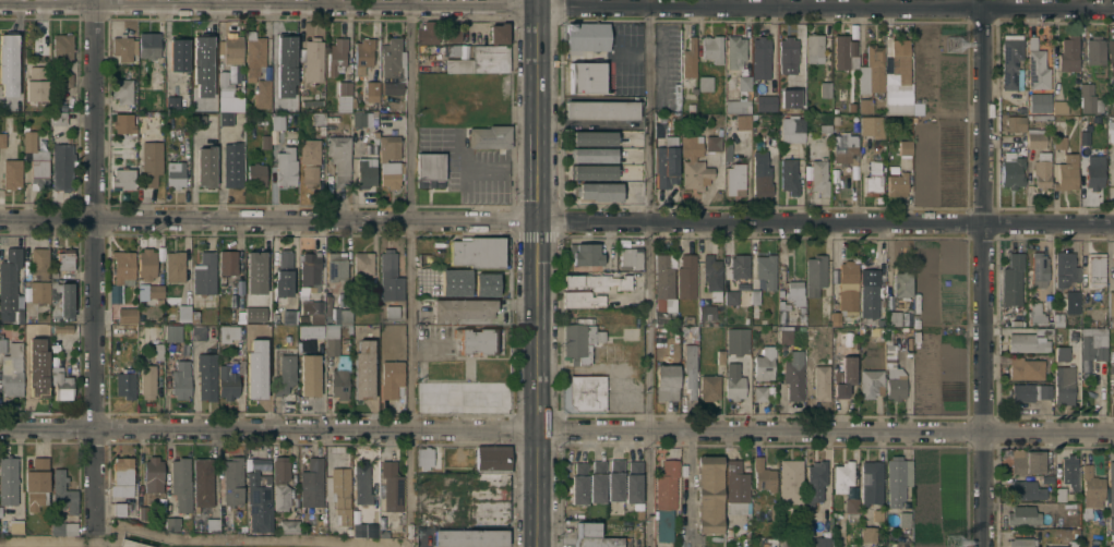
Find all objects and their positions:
road: (556, 5)
building: (428, 33)
building: (498, 33)
building: (451, 35)
building: (586, 35)
building: (148, 44)
building: (62, 47)
building: (123, 47)
building: (230, 47)
building: (8, 48)
building: (712, 48)
building: (814, 48)
building: (734, 50)
building: (843, 50)
building: (1094, 50)
building: (286, 51)
building: (453, 51)
building: (1068, 52)
building: (204, 53)
building: (178, 54)
building: (363, 54)
building: (336, 56)
building: (253, 57)
building: (760, 57)
building: (690, 58)
building: (1111, 58)
building: (313, 59)
building: (481, 59)
building: (788, 59)
building: (1011, 62)
building: (392, 64)
building: (1037, 66)
building: (872, 70)
building: (587, 71)
building: (156, 74)
building: (15, 80)
building: (65, 80)
building: (899, 80)
building: (224, 83)
building: (279, 83)
building: (705, 83)
building: (744, 83)
building: (36, 84)
building: (587, 86)
building: (209, 87)
building: (345, 87)
building: (122, 89)
building: (825, 89)
building: (371, 90)
building: (262, 93)
building: (676, 96)
building: (1089, 98)
building: (280, 99)
building: (788, 99)
building: (354, 101)
building: (766, 102)
building: (1039, 102)
building: (171, 104)
building: (193, 104)
building: (311, 104)
building: (738, 106)
building: (852, 106)
building: (865, 106)
building: (1059, 107)
building: (601, 109)
building: (917, 110)
building: (316, 118)
building: (362, 118)
building: (1041, 118)
building: (58, 119)
building: (225, 120)
building: (277, 121)
building: (742, 121)
building: (837, 121)
building: (199, 122)
building: (123, 123)
building: (854, 123)
building: (1015, 123)
building: (872, 126)
building: (825, 127)
building: (793, 129)
building: (1110, 131)
building: (657, 133)
building: (375, 134)
building: (490, 136)
building: (1035, 137)
building: (1085, 137)
building: (591, 138)
building: (2, 139)
building: (265, 141)
building: (712, 142)
building: (1059, 142)
building: (130, 146)
building: (905, 147)
building: (845, 149)
building: (592, 156)
building: (727, 156)
building: (339, 158)
building: (36, 160)
building: (309, 160)
building: (151, 161)
building: (391, 161)
building: (667, 162)
building: (694, 162)
building: (231, 165)
building: (62, 166)
building: (286, 166)
building: (205, 167)
building: (430, 169)
building: (1011, 170)
building: (1041, 170)
building: (367, 171)
building: (592, 172)
building: (12, 173)
building: (176, 173)
building: (762, 173)
building: (1066, 173)
building: (255, 174)
building: (790, 177)
building: (818, 177)
building: (1093, 177)
building: (122, 179)
building: (734, 179)
building: (872, 179)
building: (897, 184)
building: (598, 193)
road: (556, 222)
building: (477, 252)
building: (441, 253)
building: (585, 254)
building: (631, 257)
building: (423, 258)
building: (65, 259)
building: (227, 262)
building: (39, 263)
building: (146, 263)
building: (363, 263)
building: (336, 265)
road: (93, 266)
building: (175, 266)
building: (739, 266)
building: (123, 267)
building: (1097, 268)
building: (1113, 268)
building: (310, 269)
building: (766, 269)
building: (1039, 269)
building: (1065, 269)
road: (411, 271)
building: (255, 272)
road: (651, 272)
building: (53, 273)
building: (205, 273)
building: (284, 273)
road: (536, 273)
building: (815, 273)
road: (984, 273)
building: (686, 276)
building: (712, 276)
building: (390, 277)
building: (664, 277)
building: (456, 278)
building: (1013, 279)
building: (597, 281)
building: (52, 282)
building: (10, 283)
building: (901, 284)
building: (484, 285)
building: (847, 290)
building: (38, 291)
building: (155, 291)
building: (795, 292)
building: (374, 295)
building: (871, 295)
building: (113, 296)
building: (731, 296)
building: (65, 299)
building: (582, 299)
building: (1049, 301)
building: (755, 302)
building: (1070, 302)
building: (318, 306)
building: (781, 306)
building: (1111, 307)
building: (463, 308)
building: (327, 309)
building: (184, 312)
building: (392, 312)
building: (706, 312)
building: (801, 312)
building: (124, 314)
building: (254, 314)
building: (1035, 314)
building: (289, 315)
building: (664, 315)
building: (240, 316)
building: (343, 316)
building: (275, 317)
building: (688, 318)
building: (893, 318)
building: (1057, 319)
building: (771, 320)
building: (61, 328)
building: (311, 330)
building: (1043, 330)
building: (690, 331)
building: (172, 332)
building: (199, 332)
building: (230, 332)
building: (786, 336)
building: (476, 339)
building: (579, 340)
building: (35, 342)
building: (252, 343)
building: (1027, 343)
building: (1093, 343)
building: (2, 345)
building: (743, 350)
building: (158, 351)
building: (1062, 353)
building: (720, 356)
building: (690, 360)
building: (764, 364)
building: (1111, 365)
building: (1025, 368)
building: (12, 369)
building: (338, 369)
building: (1082, 369)
building: (893, 373)
building: (206, 375)
building: (285, 375)
building: (309, 375)
building: (793, 375)
building: (392, 377)
building: (845, 377)
building: (229, 378)
building: (181, 379)
building: (147, 380)
building: (51, 381)
building: (362, 381)
building: (667, 381)
building: (734, 381)
building: (40, 382)
building: (125, 382)
building: (822, 382)
building: (871, 382)
building: (61, 384)
building: (1064, 385)
building: (255, 386)
building: (709, 387)
building: (1113, 389)
building: (1021, 391)
building: (1044, 391)
building: (587, 392)
building: (760, 393)
road: (556, 434)
building: (424, 457)
building: (492, 460)
building: (1027, 462)
building: (257, 465)
building: (1069, 472)
building: (153, 474)
building: (764, 475)
building: (842, 475)
building: (122, 476)
road: (688, 478)
building: (9, 479)
building: (615, 479)
building: (898, 479)
building: (1047, 479)
building: (231, 481)
building: (597, 481)
building: (790, 481)
building: (279, 482)
building: (633, 482)
building: (736, 482)
building: (815, 482)
building: (37, 483)
building: (202, 483)
building: (362, 483)
building: (180, 484)
building: (311, 484)
building: (579, 484)
building: (871, 484)
building: (480, 485)
building: (392, 486)
building: (1092, 488)
building: (1026, 490)
building: (63, 493)
building: (339, 493)
building: (710, 494)
building: (1059, 495)
building: (1111, 498)
building: (666, 499)
building: (257, 500)
building: (851, 505)
building: (122, 509)
building: (142, 511)
building: (1085, 511)
building: (487, 512)
building: (876, 515)
building: (1022, 516)
building: (903, 519)
building: (171, 522)
building: (211, 524)
building: (14, 525)
building: (287, 526)
building: (63, 528)
building: (309, 528)
building: (358, 530)
building: (587, 530)
building: (729, 532)
building: (1069, 532)
building: (1075, 532)
building: (866, 535)
building: (423, 536)
building: (470, 537)
building: (597, 542)
building: (822, 542)
building: (791, 543)
building: (1020, 543)
building: (1074, 544)

